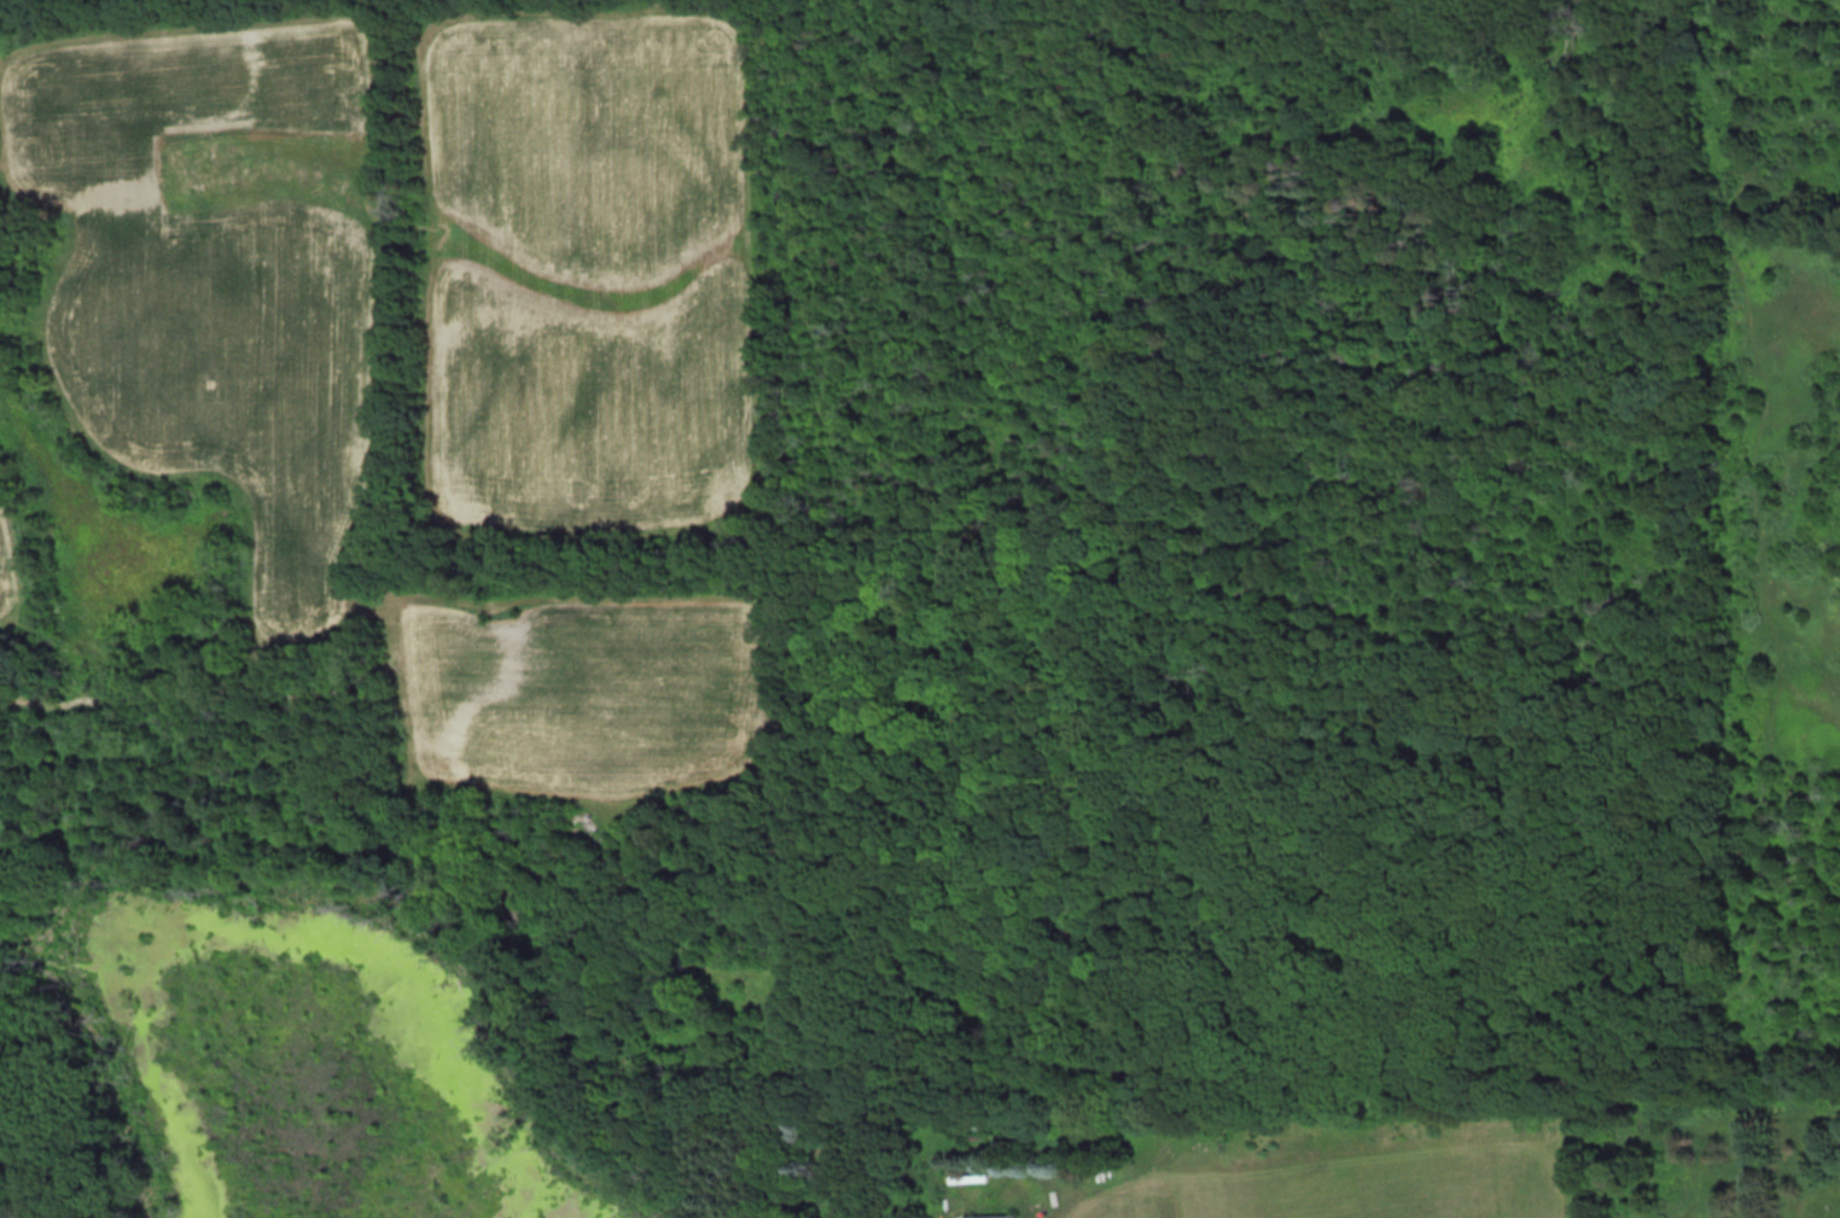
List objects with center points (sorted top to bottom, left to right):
park: (254, 5)
park: (1501, 530)
road: (180, 653)
building: (996, 1216)

